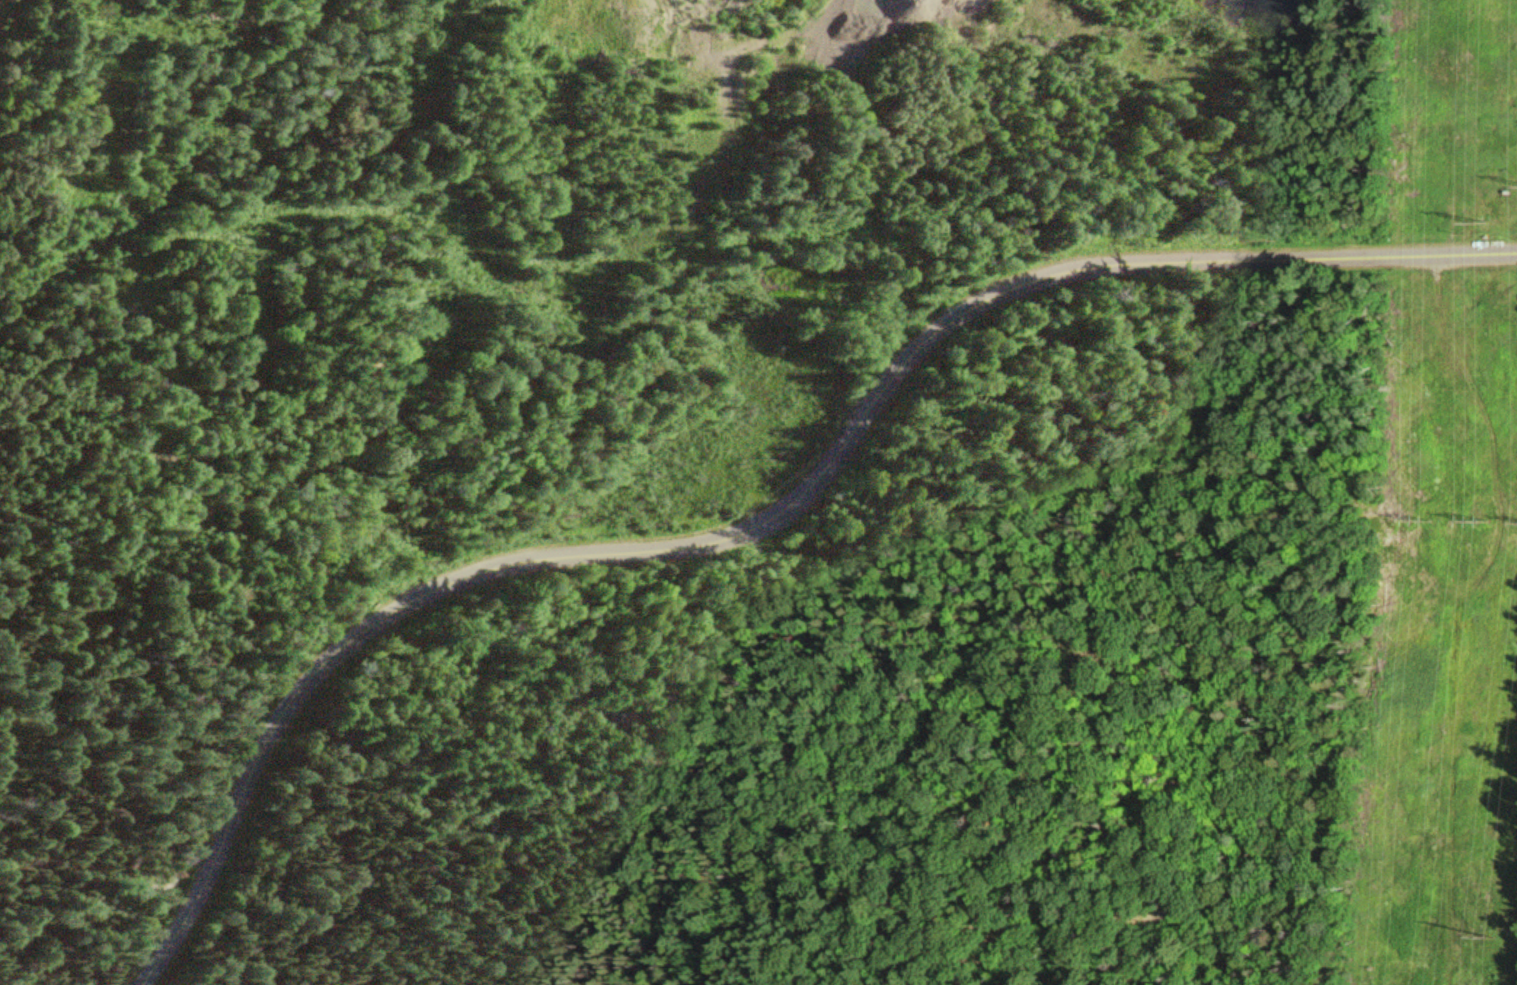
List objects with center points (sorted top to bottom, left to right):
road: (774, 520)
road: (1192, 559)

